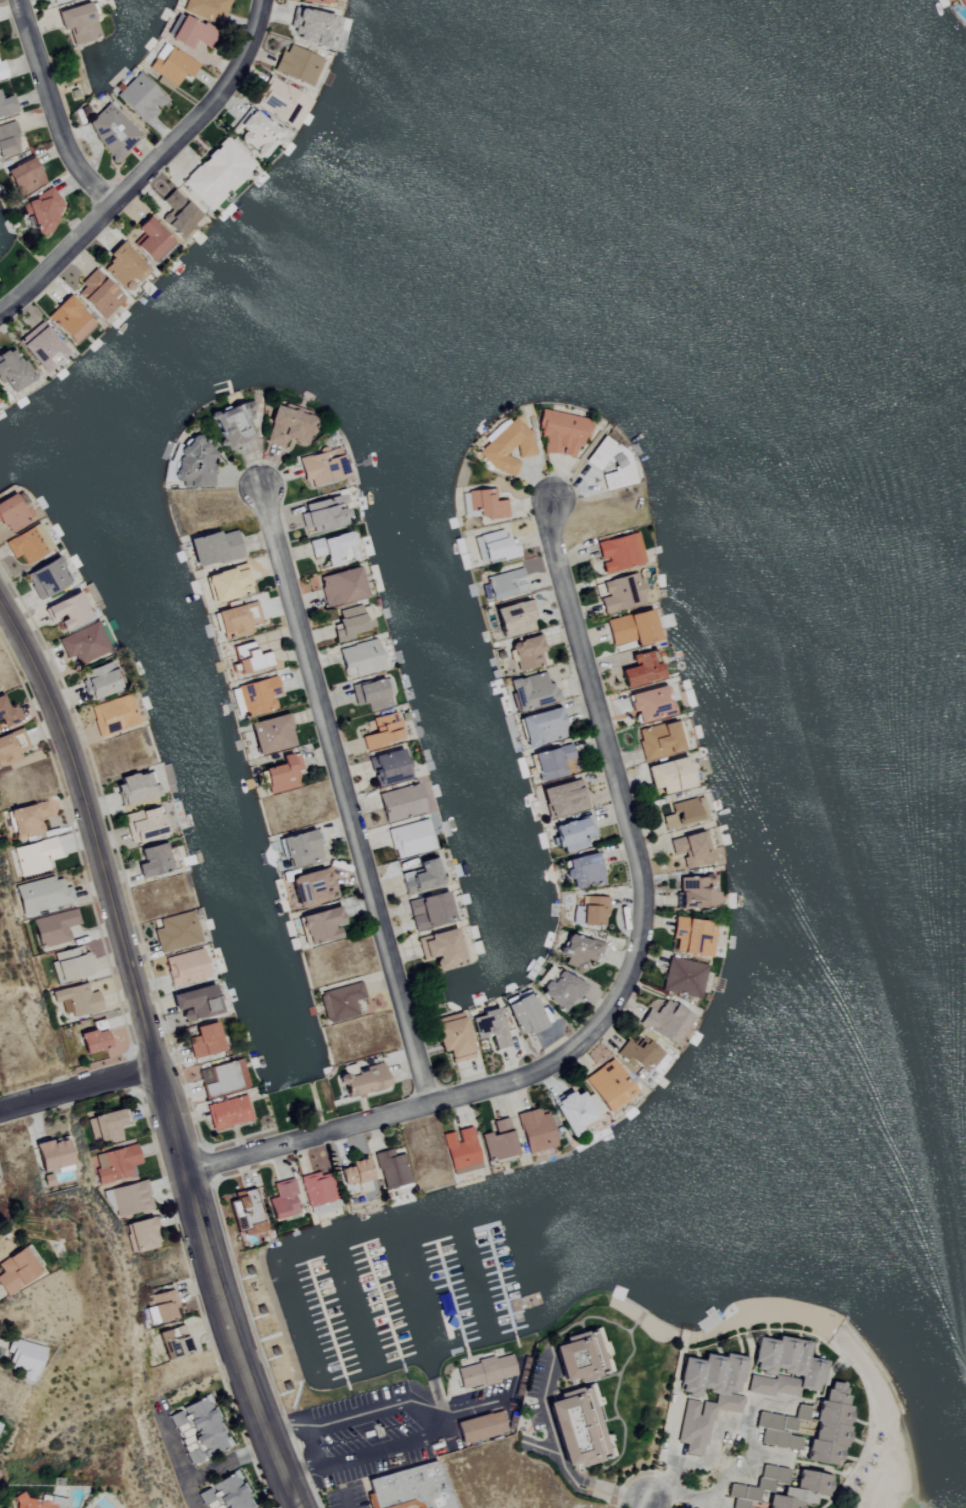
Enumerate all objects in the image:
building: (54, 0)
building: (318, 0)
building: (960, 4)
building: (207, 9)
building: (78, 21)
building: (309, 26)
building: (192, 32)
building: (297, 64)
building: (170, 66)
building: (1, 70)
building: (140, 97)
building: (282, 102)
building: (7, 105)
road: (52, 109)
building: (112, 131)
building: (254, 131)
building: (8, 139)
road: (146, 169)
building: (217, 173)
building: (24, 175)
building: (43, 210)
building: (178, 213)
building: (150, 238)
building: (124, 266)
building: (98, 293)
building: (68, 320)
building: (40, 347)
building: (12, 374)
building: (234, 427)
building: (287, 427)
building: (560, 433)
building: (506, 446)
building: (611, 464)
building: (194, 466)
building: (322, 468)
building: (481, 504)
building: (12, 514)
building: (323, 515)
building: (27, 545)
building: (494, 547)
building: (214, 549)
building: (333, 549)
building: (619, 552)
building: (46, 580)
building: (227, 584)
building: (504, 584)
building: (340, 588)
building: (620, 593)
building: (66, 612)
building: (514, 617)
building: (236, 620)
building: (353, 624)
building: (632, 627)
building: (83, 645)
building: (527, 652)
building: (249, 659)
building: (360, 659)
building: (641, 668)
building: (98, 683)
building: (532, 690)
building: (370, 695)
building: (257, 696)
building: (649, 703)
building: (112, 716)
building: (7, 717)
building: (542, 726)
building: (383, 732)
building: (269, 735)
building: (659, 739)
building: (11, 747)
building: (552, 761)
building: (387, 769)
building: (670, 774)
building: (282, 775)
building: (134, 788)
road: (344, 798)
building: (563, 798)
building: (400, 804)
building: (684, 813)
building: (27, 819)
building: (143, 824)
building: (573, 833)
building: (410, 839)
building: (300, 848)
building: (691, 848)
building: (35, 856)
building: (151, 859)
building: (583, 871)
building: (422, 877)
building: (311, 887)
building: (696, 892)
building: (43, 895)
building: (593, 909)
building: (429, 910)
building: (320, 925)
building: (54, 928)
building: (175, 932)
building: (693, 936)
building: (441, 948)
building: (580, 951)
building: (68, 964)
building: (184, 967)
building: (683, 977)
road: (625, 980)
building: (558, 988)
building: (77, 1000)
building: (194, 1002)
building: (340, 1002)
building: (524, 1012)
building: (666, 1021)
building: (489, 1029)
building: (453, 1038)
building: (93, 1040)
building: (203, 1040)
building: (639, 1054)
road: (153, 1057)
building: (240, 1075)
building: (221, 1080)
building: (364, 1081)
building: (608, 1085)
road: (77, 1086)
building: (574, 1111)
building: (227, 1113)
building: (106, 1126)
building: (535, 1131)
building: (498, 1141)
building: (460, 1151)
building: (51, 1154)
building: (116, 1164)
building: (392, 1169)
building: (355, 1172)
building: (316, 1189)
building: (129, 1199)
building: (282, 1200)
building: (244, 1212)
building: (140, 1235)
building: (15, 1270)
pier: (500, 1281)
pier: (450, 1295)
pier: (382, 1305)
pier: (326, 1322)
building: (174, 1342)
building: (577, 1356)
building: (23, 1357)
building: (782, 1368)
building: (484, 1370)
building: (710, 1407)
building: (800, 1413)
road: (424, 1415)
building: (0, 1420)
road: (886, 1421)
building: (479, 1426)
building: (575, 1426)
building: (828, 1428)
building: (199, 1430)
building: (778, 1431)
road: (748, 1433)
parking lot: (368, 1438)
park: (877, 1442)
road: (311, 1444)
road: (218, 1466)
road: (571, 1481)
building: (757, 1486)
building: (410, 1488)
building: (801, 1491)
building: (225, 1494)
road: (622, 1497)
road: (345, 1501)
building: (37, 1503)
road: (645, 1505)
parking lot: (409, 1507)

